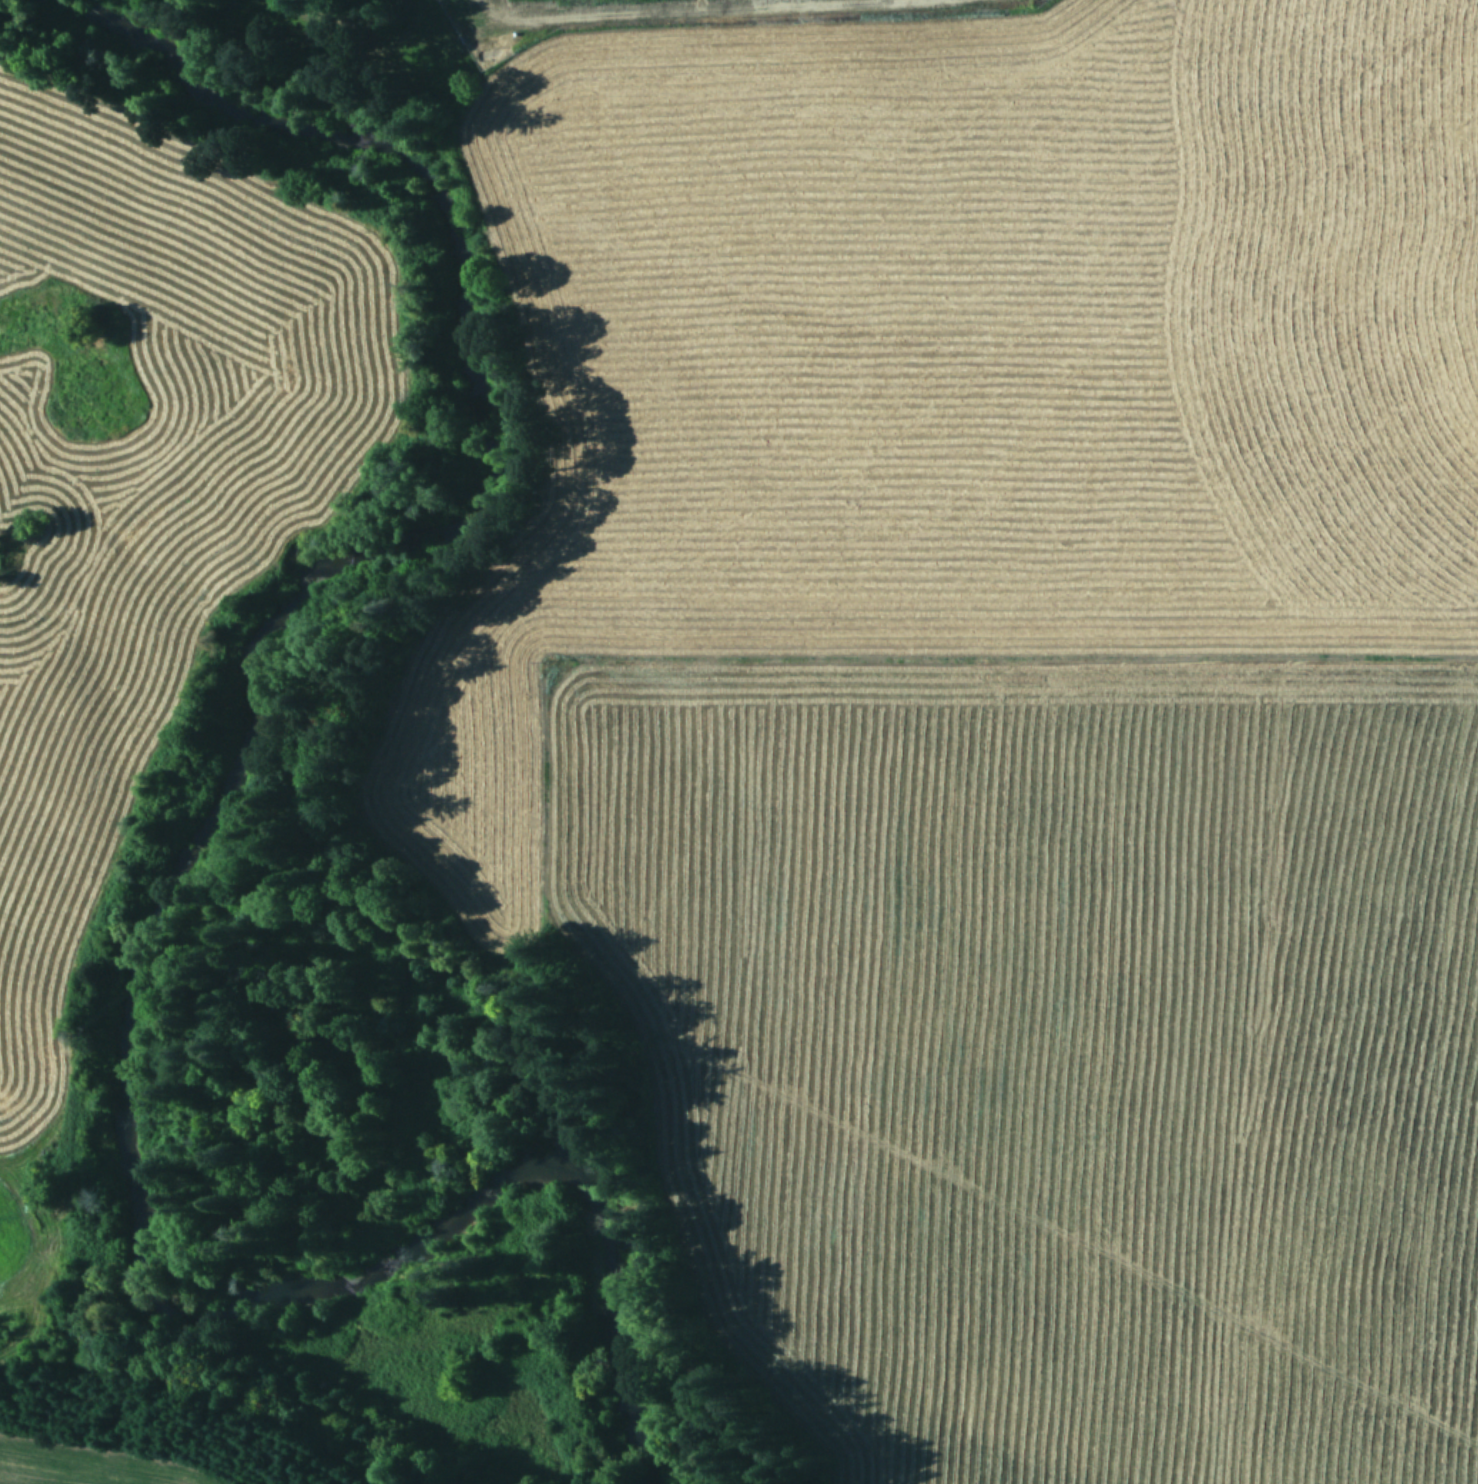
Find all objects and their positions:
road: (1470, 439)
crop: (133, 497)
crop: (1010, 699)
river: (168, 875)
crop: (82, 1458)

